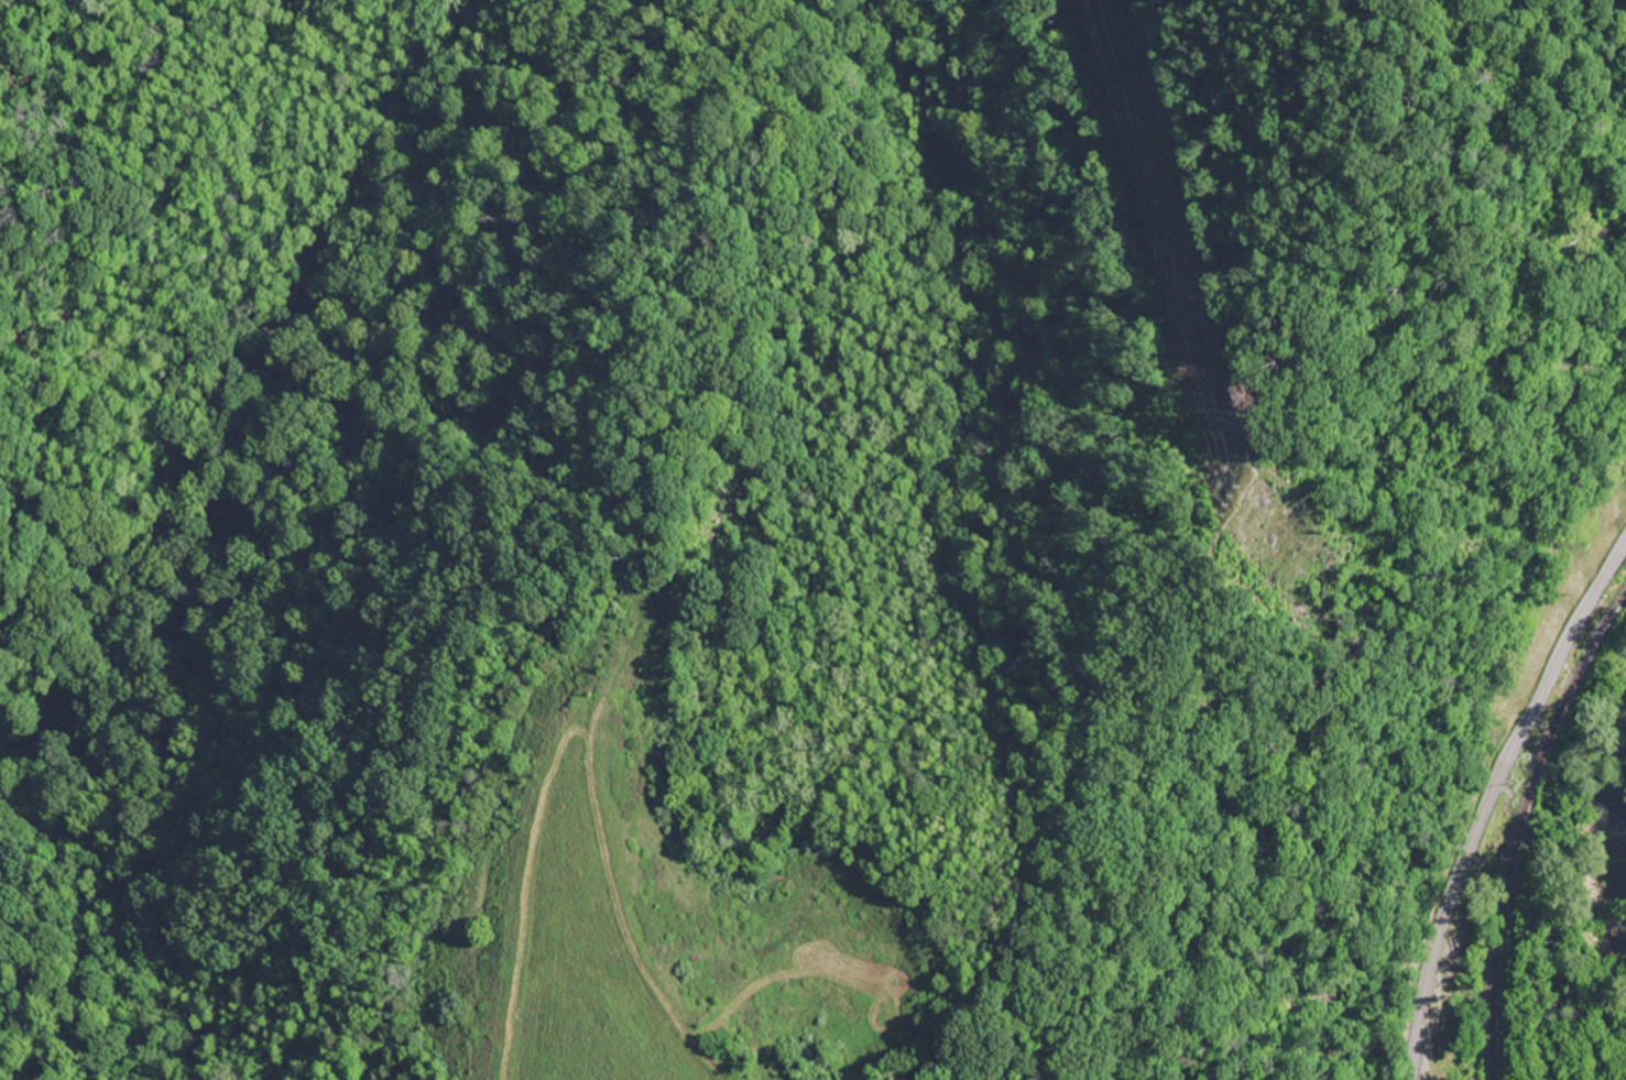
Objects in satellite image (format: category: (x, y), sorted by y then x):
road: (1485, 799)
railway: (1523, 822)

